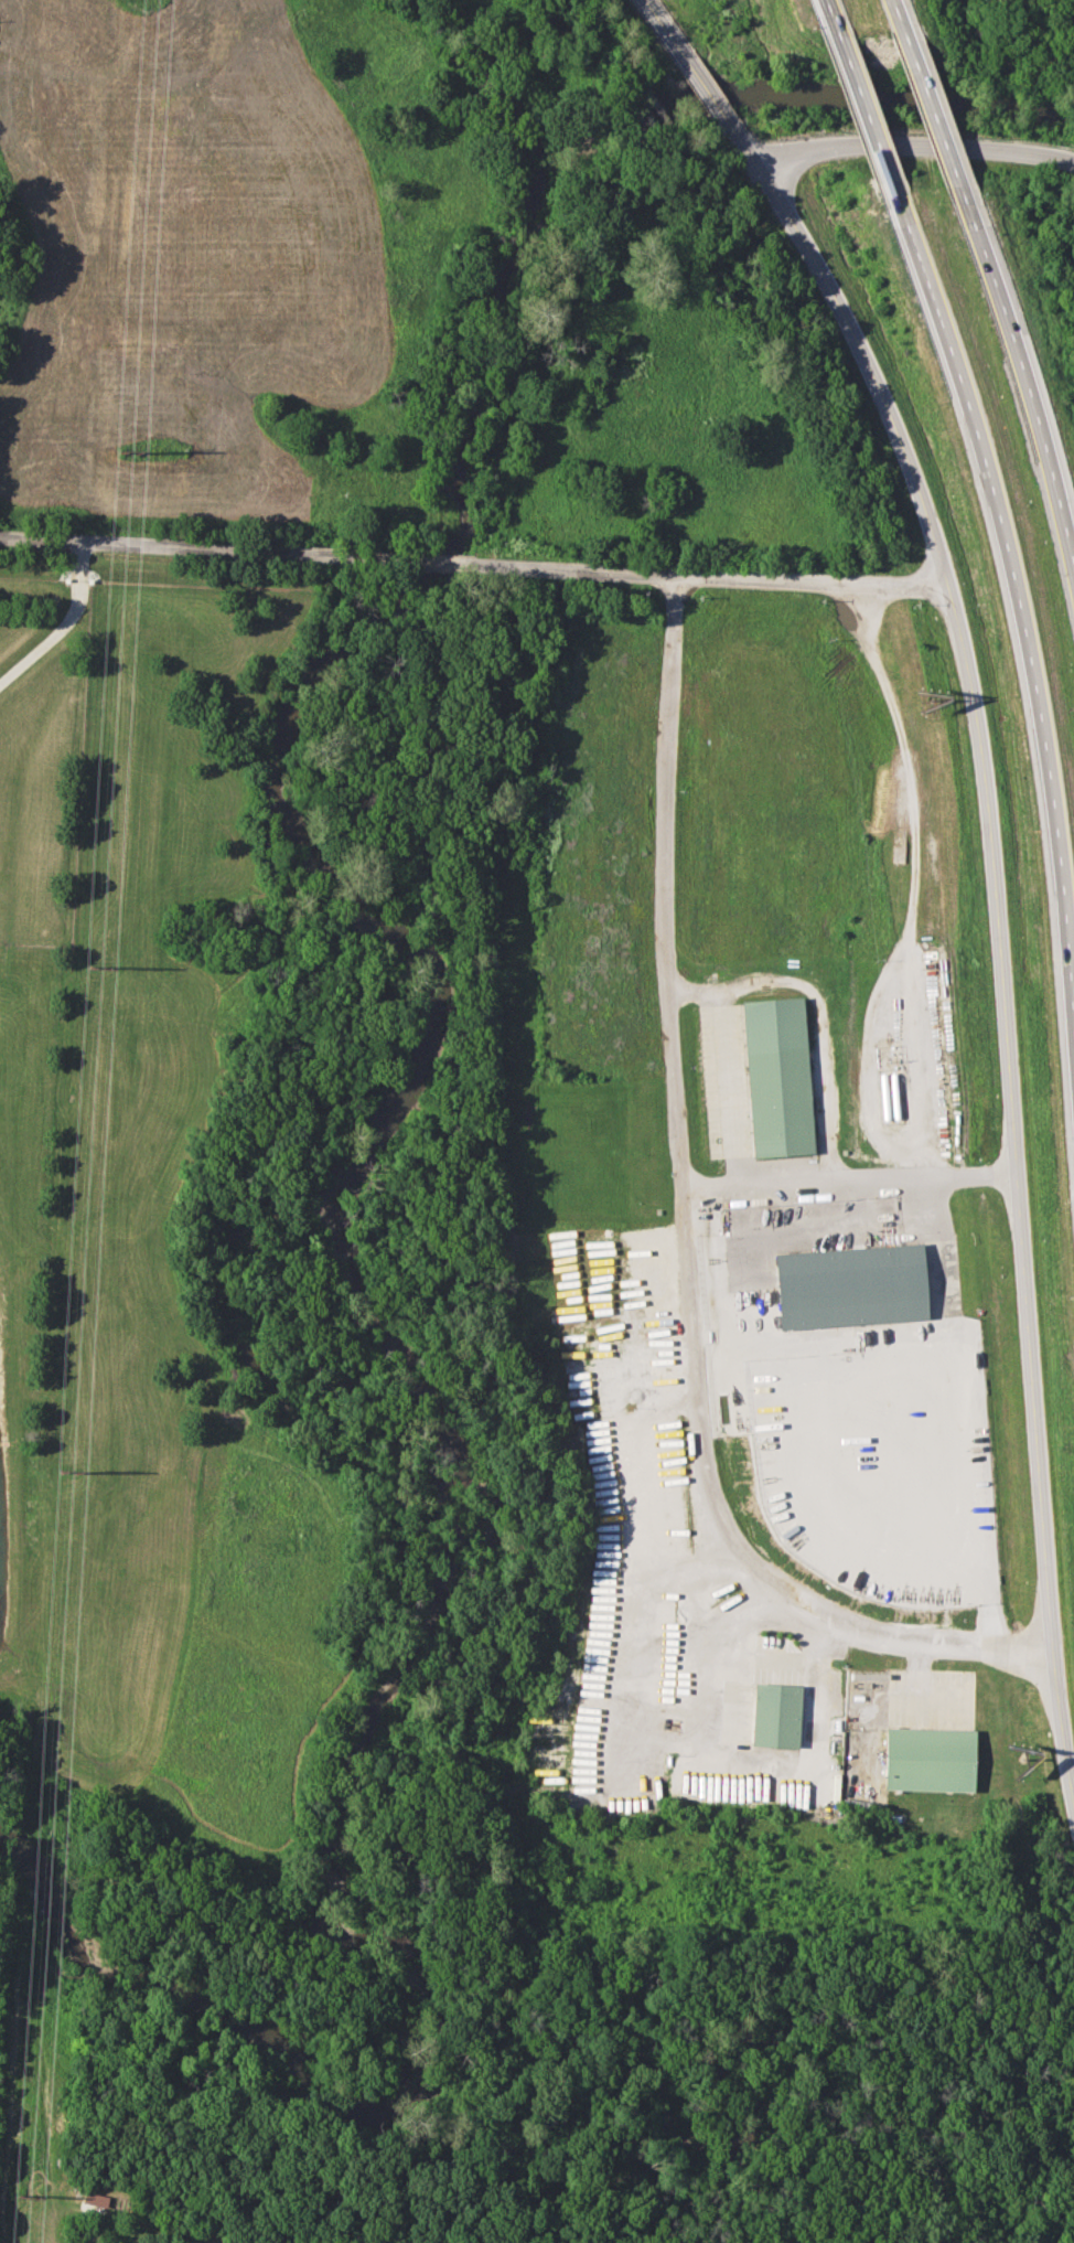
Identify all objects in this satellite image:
road: (891, 1)
road: (821, 2)
road: (665, 26)
road: (706, 90)
road: (928, 105)
road: (863, 111)
road: (914, 145)
road: (860, 345)
road: (1024, 375)
power tower: (136, 453)
road: (473, 564)
road: (1017, 580)
road: (63, 622)
road: (915, 869)
power tower: (109, 963)
road: (812, 1003)
road: (867, 1065)
building: (776, 1077)
road: (845, 1167)
road: (1012, 1209)
road: (804, 1217)
road: (684, 1232)
building: (850, 1285)
power tower: (83, 1470)
building: (775, 1715)
building: (928, 1759)
power tower: (40, 2196)

